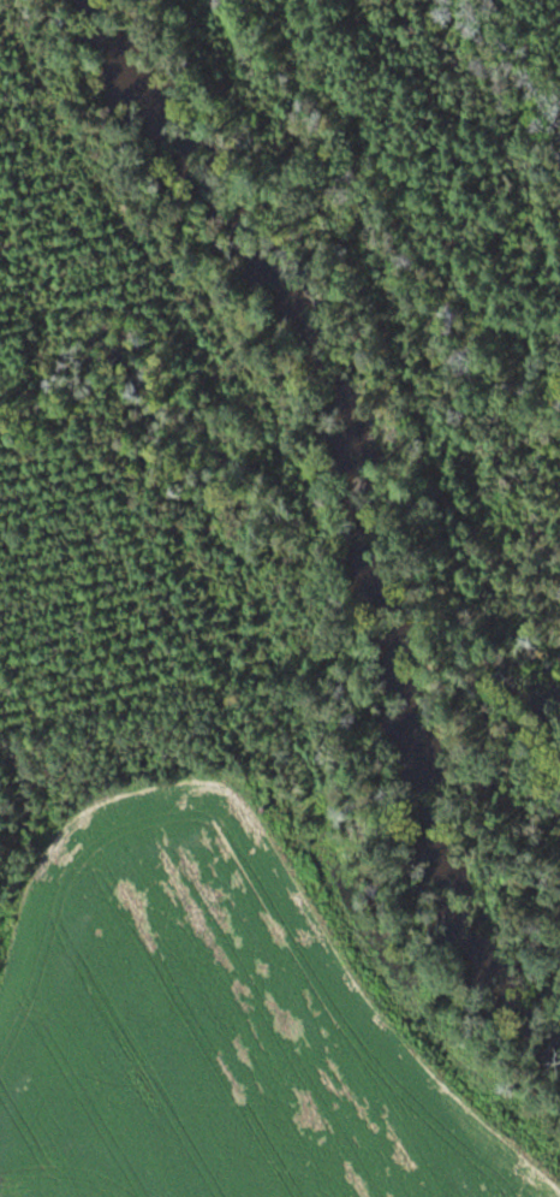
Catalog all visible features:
river: (363, 517)

